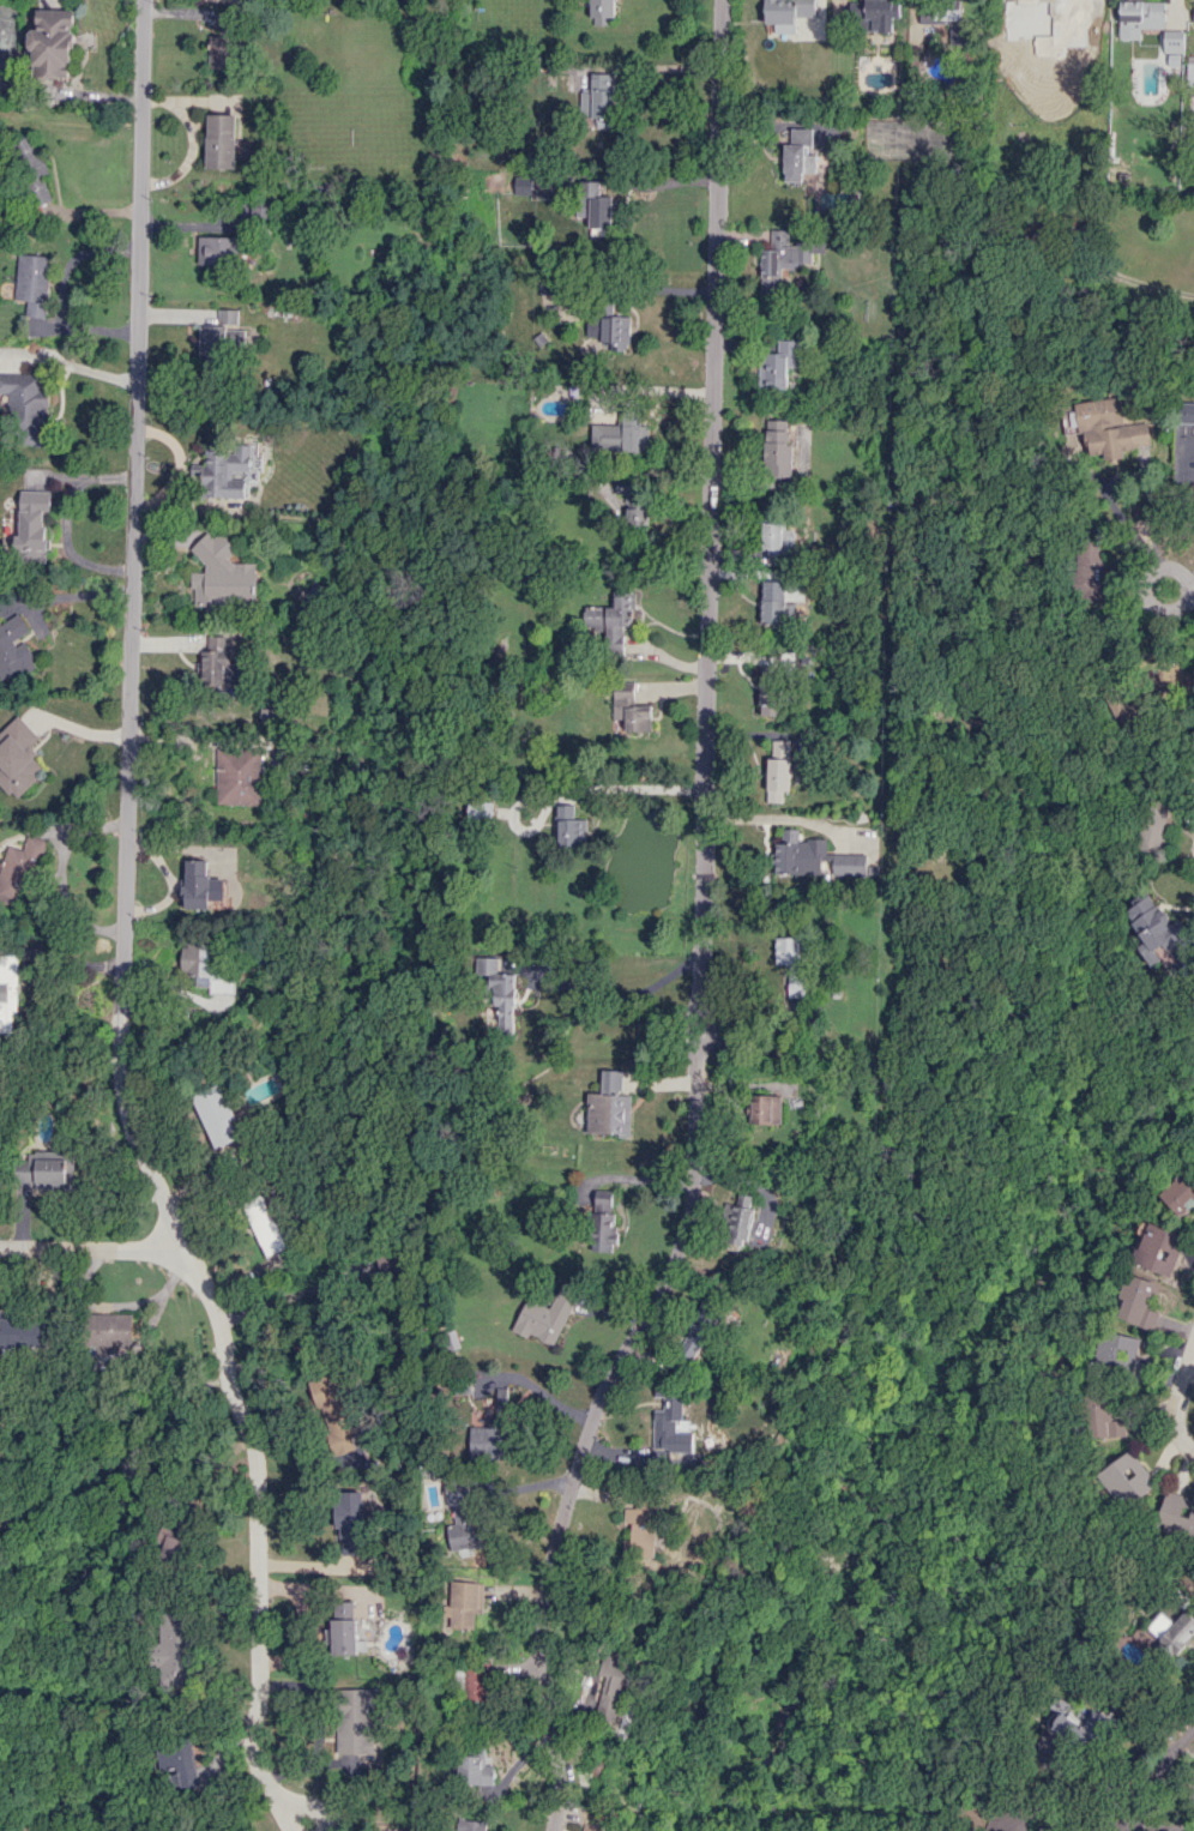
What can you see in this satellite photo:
building: (601, 12)
building: (785, 13)
building: (873, 13)
building: (1193, 16)
building: (1139, 17)
building: (948, 20)
building: (223, 23)
building: (1056, 32)
building: (1172, 41)
building: (52, 43)
building: (219, 52)
building: (1189, 73)
building: (597, 97)
building: (219, 141)
building: (798, 155)
building: (31, 167)
road: (661, 182)
building: (521, 185)
building: (548, 185)
building: (593, 207)
building: (218, 251)
building: (780, 259)
road: (1124, 277)
building: (31, 283)
road: (59, 289)
building: (615, 332)
building: (216, 341)
building: (778, 365)
building: (28, 409)
building: (1184, 412)
building: (1110, 429)
building: (620, 435)
building: (776, 450)
road: (1127, 475)
building: (632, 506)
road: (65, 523)
building: (31, 524)
building: (776, 542)
building: (1091, 570)
building: (222, 576)
building: (1189, 590)
road: (1147, 594)
road: (65, 597)
building: (772, 603)
building: (611, 619)
building: (14, 648)
building: (219, 662)
building: (770, 692)
building: (629, 711)
building: (270, 713)
building: (17, 758)
building: (777, 769)
building: (236, 776)
road: (628, 781)
building: (480, 811)
road: (526, 821)
building: (569, 827)
building: (1153, 827)
building: (797, 855)
building: (850, 866)
building: (14, 873)
building: (199, 885)
road: (122, 923)
road: (701, 932)
building: (791, 963)
building: (205, 968)
building: (7, 990)
building: (497, 993)
road: (614, 996)
building: (609, 1106)
building: (764, 1109)
building: (217, 1115)
building: (54, 1173)
building: (1178, 1191)
building: (602, 1219)
building: (736, 1223)
building: (265, 1225)
road: (91, 1248)
building: (1158, 1249)
building: (1138, 1302)
building: (545, 1315)
building: (110, 1329)
building: (23, 1335)
building: (695, 1335)
building: (1117, 1351)
road: (537, 1391)
building: (501, 1401)
road: (1177, 1404)
building: (340, 1411)
building: (1104, 1417)
building: (668, 1422)
building: (487, 1440)
building: (1127, 1477)
building: (462, 1516)
building: (354, 1522)
building: (637, 1531)
building: (176, 1543)
building: (463, 1603)
building: (345, 1627)
building: (177, 1649)
building: (476, 1680)
building: (611, 1687)
building: (357, 1724)
building: (186, 1764)
building: (475, 1770)
road: (1153, 1773)
road: (319, 1807)
road: (295, 1820)
building: (1130, 1823)
building: (469, 1825)
road: (334, 1827)
building: (591, 1827)
building: (1044, 1830)

